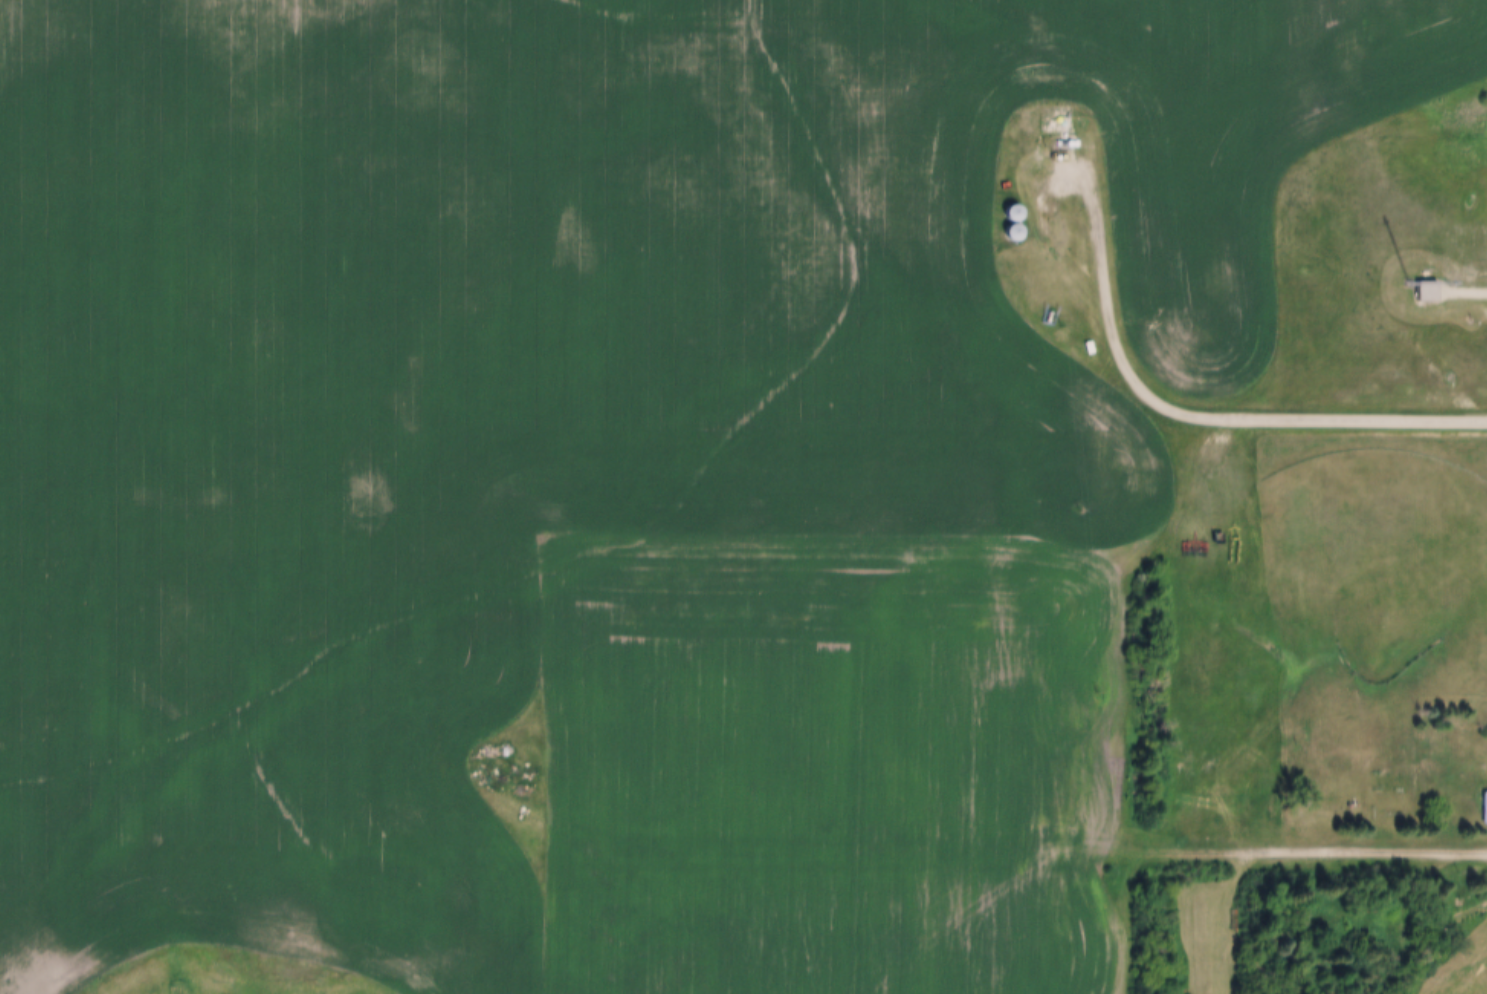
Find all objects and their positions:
building: (1057, 122)
building: (1013, 216)
building: (1014, 235)
building: (1420, 283)
road: (1464, 292)
building: (1427, 293)
road: (1196, 414)
building: (1485, 810)
road: (1313, 852)
road: (1412, 935)

